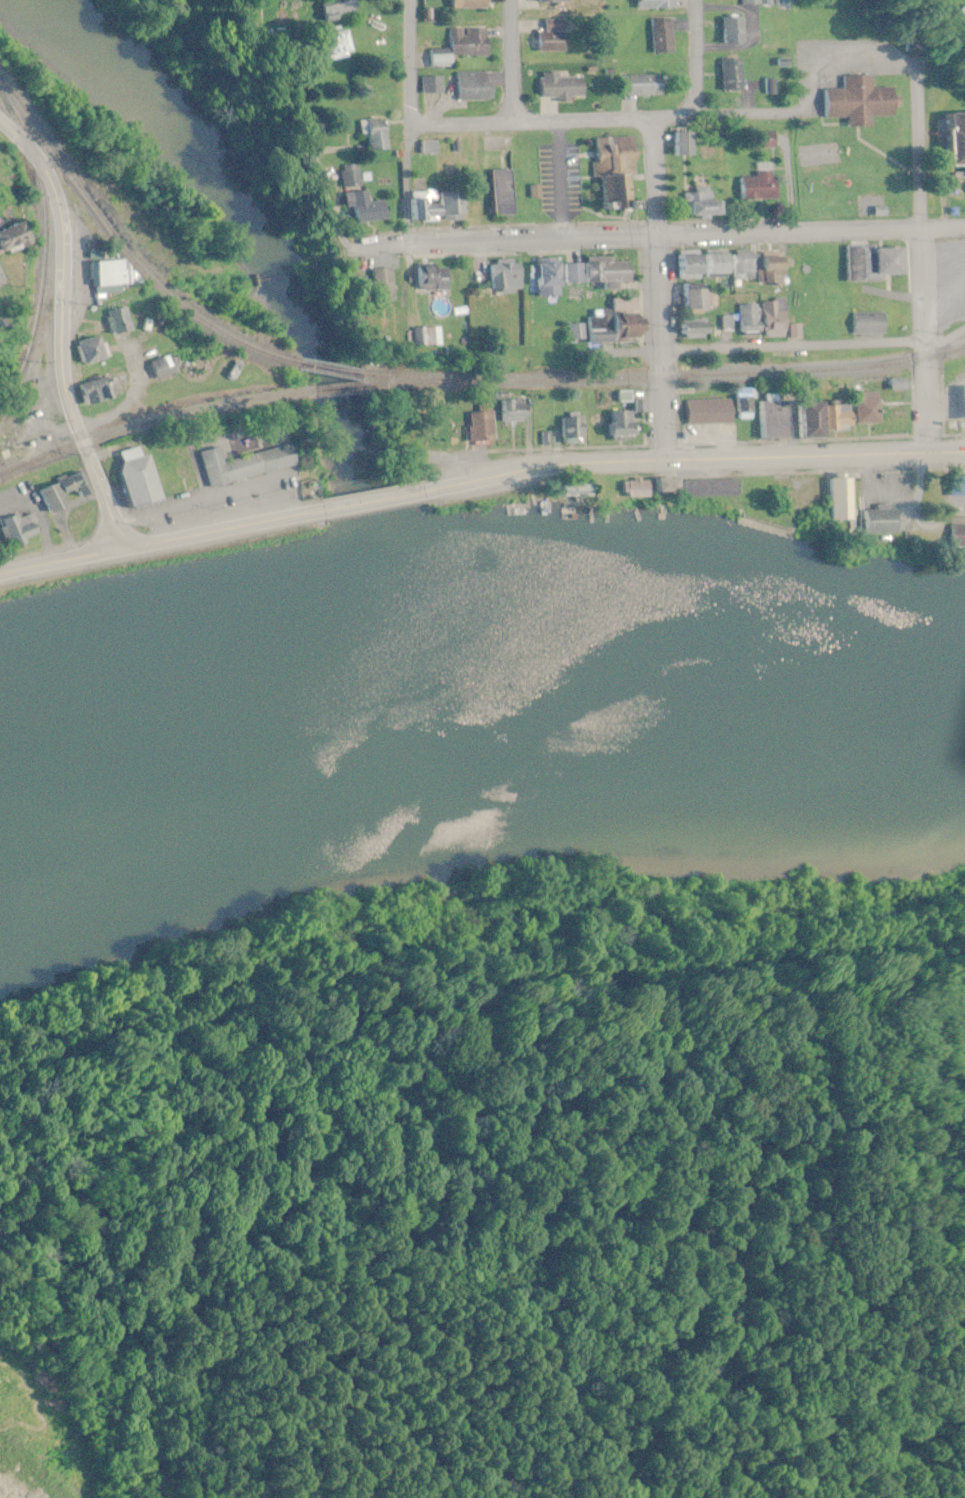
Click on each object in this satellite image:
building: (556, 1)
building: (747, 2)
building: (477, 4)
building: (660, 5)
building: (343, 9)
building: (725, 31)
building: (665, 36)
building: (555, 37)
building: (462, 47)
road: (694, 58)
road: (513, 60)
building: (727, 76)
building: (433, 85)
building: (643, 86)
building: (474, 87)
building: (563, 88)
railway: (8, 92)
building: (854, 101)
road: (689, 116)
road: (409, 121)
building: (377, 134)
building: (759, 140)
building: (950, 141)
building: (676, 145)
building: (0, 149)
building: (609, 171)
building: (753, 185)
building: (504, 194)
building: (364, 202)
building: (693, 203)
building: (438, 210)
building: (17, 235)
road: (685, 236)
railway: (131, 248)
road: (926, 257)
railway: (38, 260)
building: (881, 261)
building: (697, 266)
building: (753, 268)
building: (591, 271)
building: (114, 274)
building: (508, 275)
road: (4, 276)
building: (434, 277)
building: (541, 279)
road: (659, 289)
building: (690, 298)
river: (294, 310)
building: (0, 311)
building: (770, 318)
building: (745, 320)
building: (121, 321)
building: (606, 324)
building: (865, 324)
building: (689, 329)
building: (793, 331)
road: (60, 332)
building: (426, 335)
road: (815, 349)
building: (93, 350)
building: (164, 367)
railway: (324, 367)
railway: (720, 375)
railway: (422, 377)
railway: (431, 382)
building: (100, 390)
railway: (337, 390)
building: (959, 403)
building: (742, 404)
building: (865, 408)
building: (516, 411)
building: (705, 412)
building: (488, 418)
building: (816, 419)
building: (768, 420)
building: (616, 426)
building: (568, 429)
railway: (140, 430)
building: (12, 447)
road: (705, 461)
building: (245, 464)
building: (140, 481)
building: (954, 487)
building: (689, 488)
building: (62, 493)
road: (377, 500)
building: (835, 500)
building: (875, 521)
building: (20, 529)
building: (954, 536)
road: (154, 543)
river: (474, 700)

